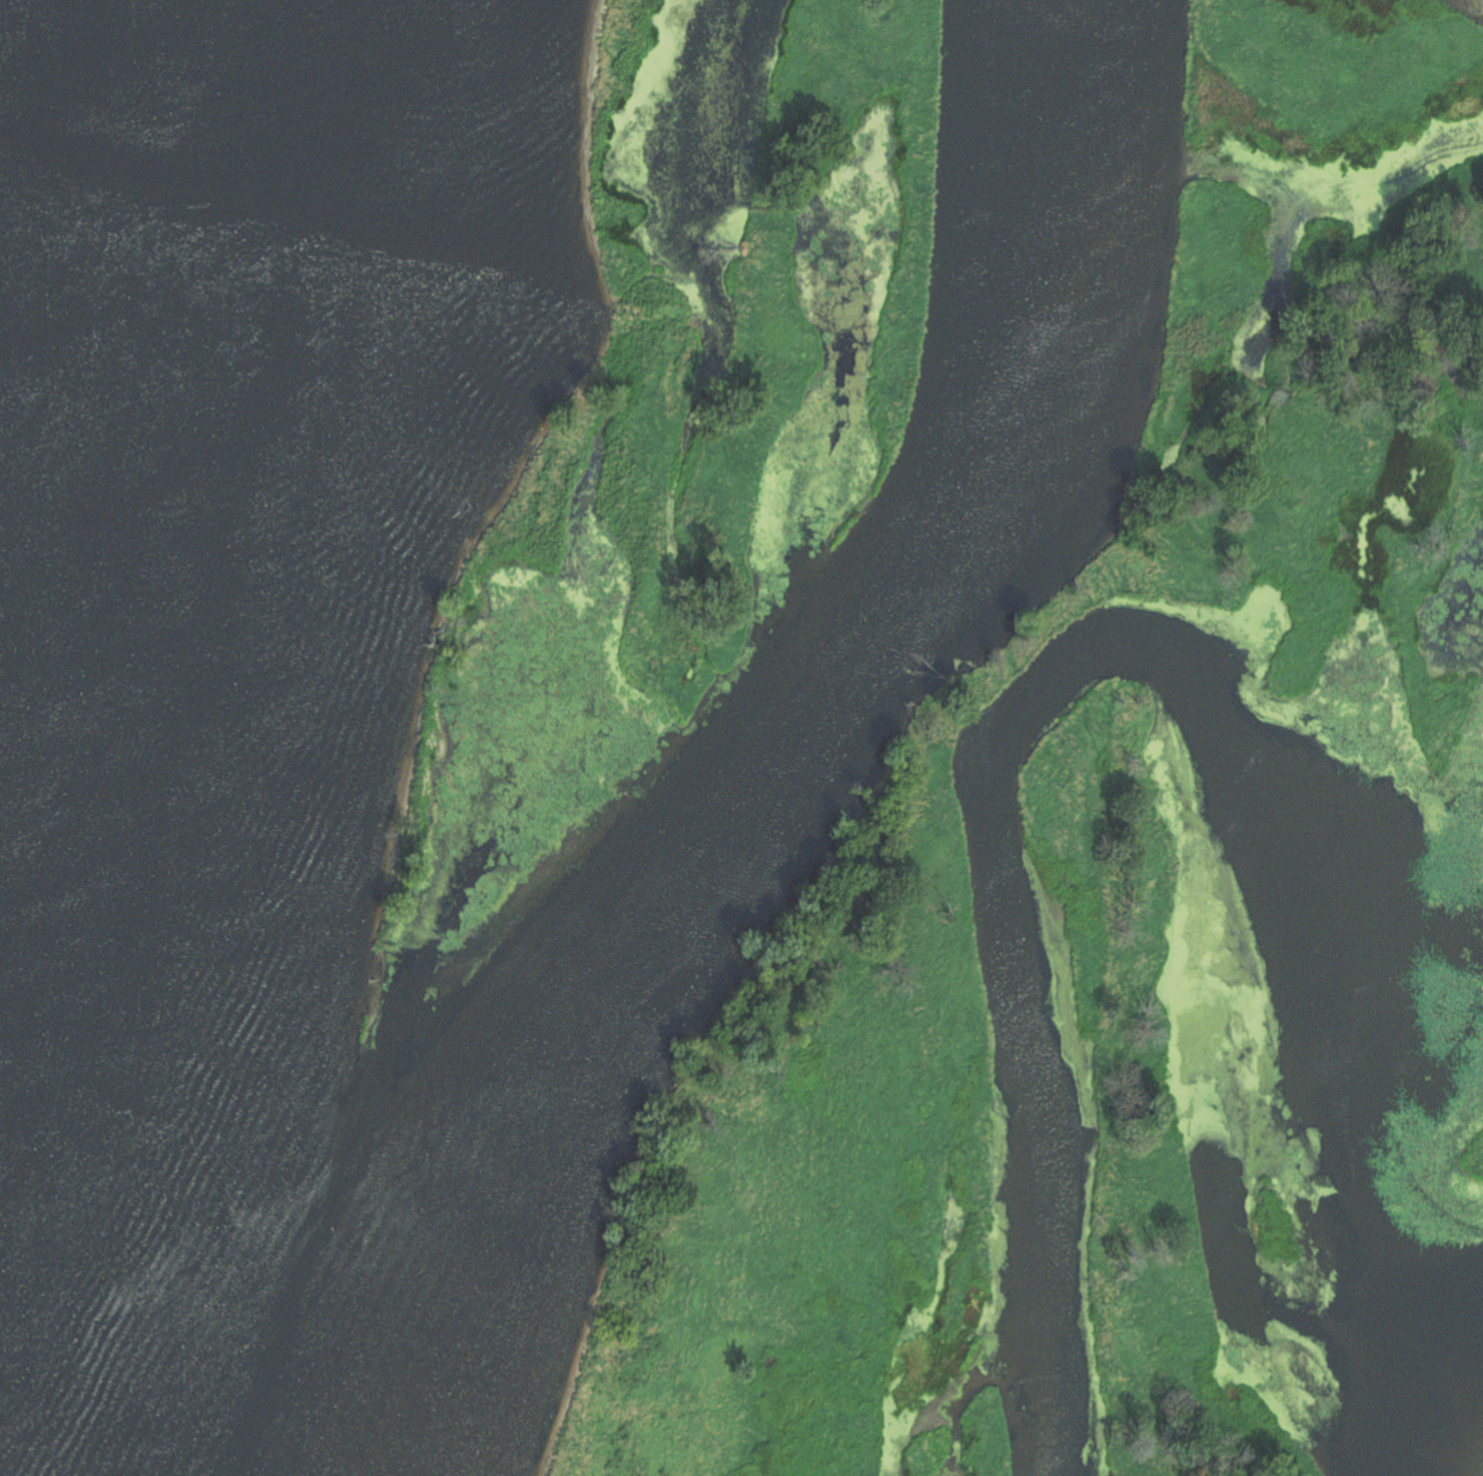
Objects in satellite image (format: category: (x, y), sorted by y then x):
river: (59, 244)

